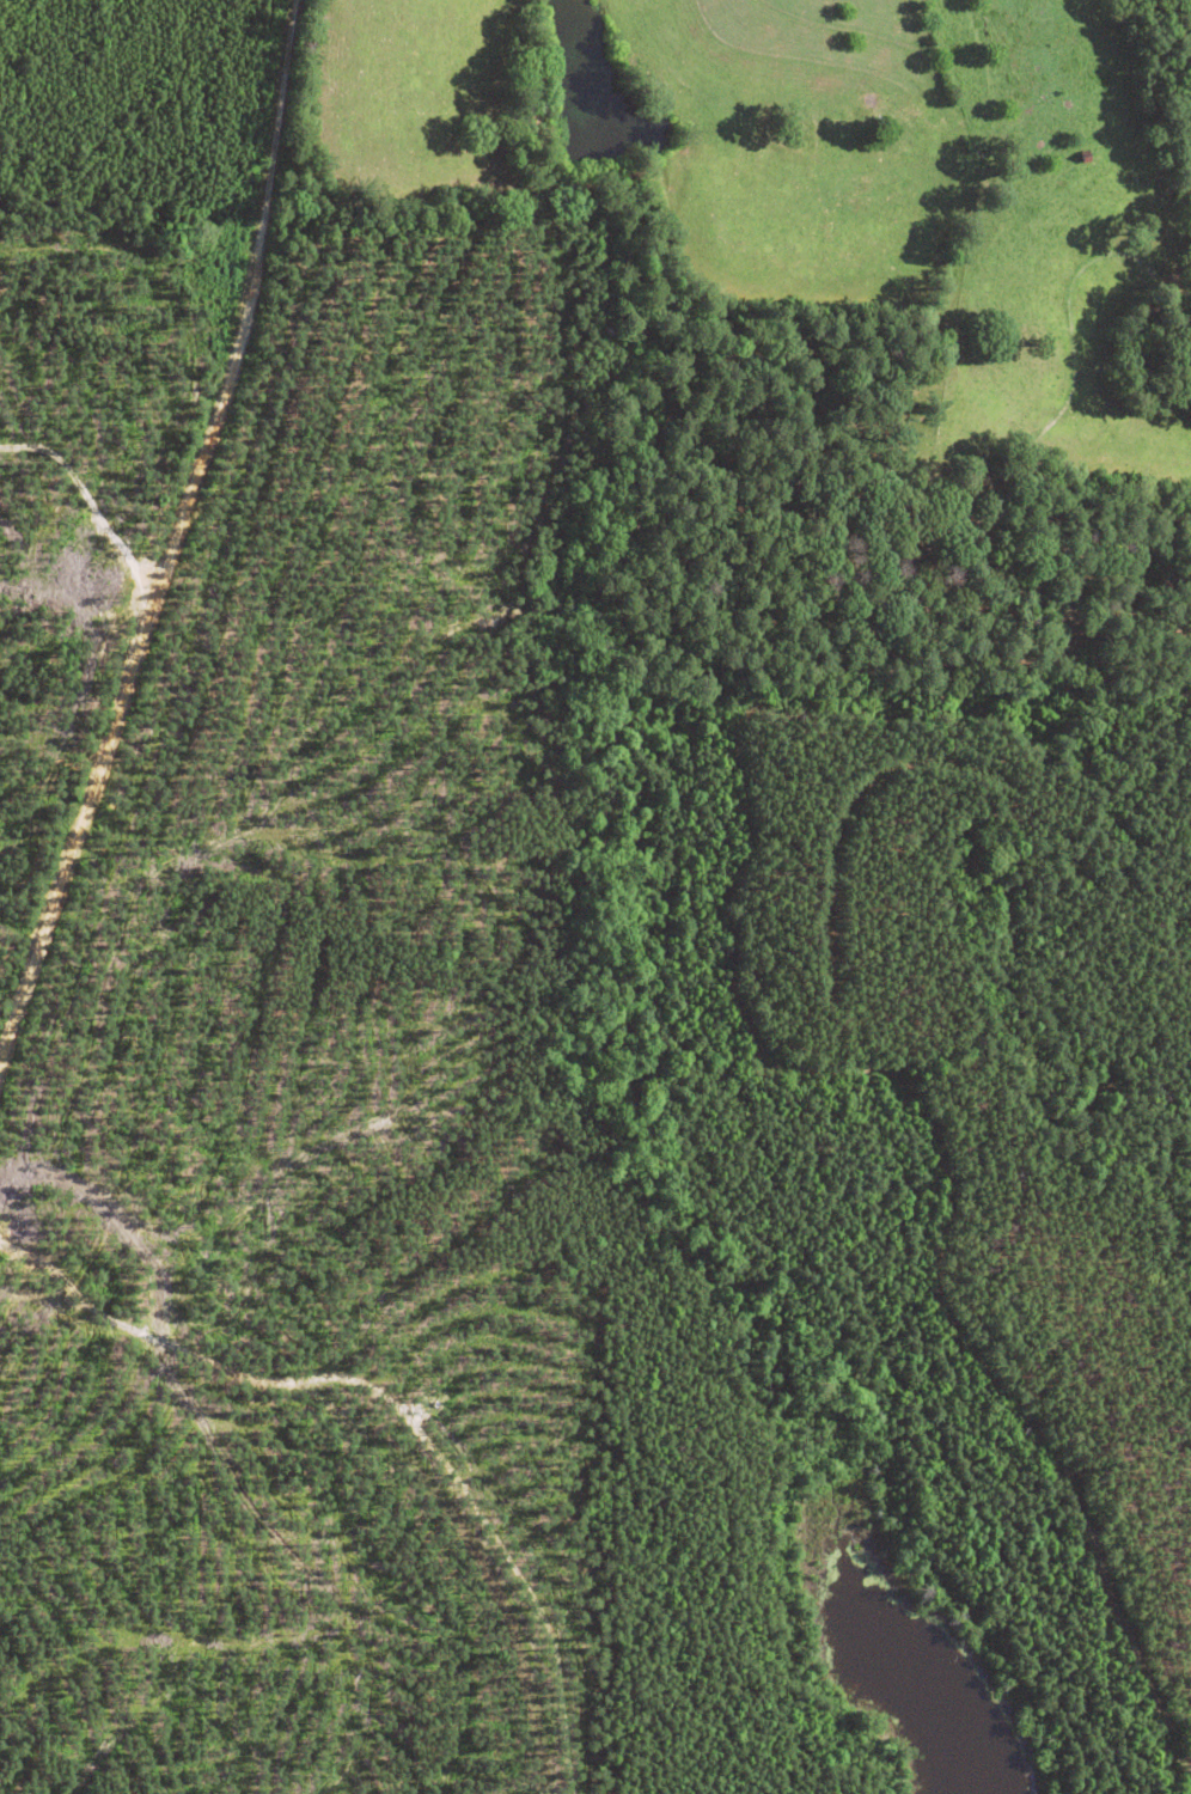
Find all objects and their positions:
road: (164, 508)

